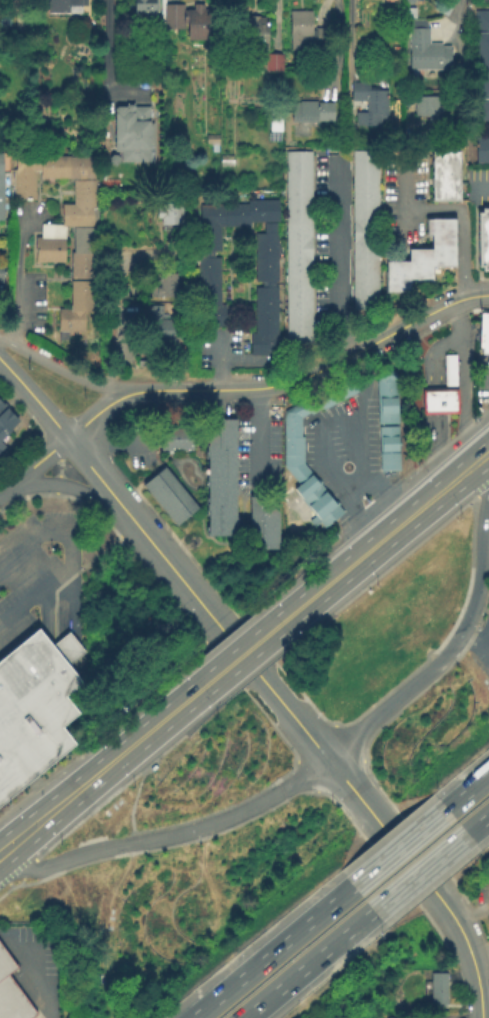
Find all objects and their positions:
building: (408, 0)
building: (63, 5)
building: (144, 7)
building: (186, 18)
road: (449, 23)
building: (251, 31)
building: (306, 31)
road: (350, 36)
road: (461, 44)
road: (337, 46)
building: (424, 47)
road: (106, 59)
building: (272, 60)
building: (480, 64)
building: (368, 102)
building: (426, 104)
building: (310, 109)
building: (274, 119)
building: (132, 131)
building: (210, 137)
building: (482, 148)
building: (225, 159)
building: (444, 174)
building: (1, 186)
road: (480, 187)
road: (405, 208)
building: (171, 212)
building: (63, 224)
building: (363, 228)
building: (482, 237)
building: (298, 245)
building: (422, 255)
road: (463, 255)
road: (336, 260)
building: (207, 267)
building: (0, 275)
road: (16, 277)
building: (167, 283)
road: (126, 290)
road: (476, 296)
road: (110, 303)
building: (165, 325)
road: (122, 326)
building: (484, 331)
road: (429, 353)
road: (222, 359)
building: (140, 361)
road: (63, 369)
building: (449, 372)
road: (215, 374)
road: (304, 378)
road: (463, 387)
road: (35, 398)
road: (430, 404)
building: (440, 404)
road: (97, 415)
building: (6, 418)
road: (334, 422)
road: (483, 422)
building: (387, 423)
road: (258, 435)
building: (166, 437)
building: (183, 437)
road: (109, 439)
building: (1, 444)
building: (293, 453)
road: (433, 457)
road: (34, 466)
road: (97, 474)
building: (219, 475)
road: (68, 485)
road: (351, 485)
building: (168, 494)
building: (262, 519)
road: (65, 532)
road: (392, 533)
road: (485, 547)
road: (34, 593)
road: (474, 650)
road: (245, 653)
road: (253, 668)
building: (34, 706)
road: (124, 753)
road: (327, 762)
road: (152, 763)
road: (465, 788)
road: (136, 795)
road: (23, 820)
road: (477, 821)
road: (35, 840)
road: (396, 846)
road: (4, 867)
road: (417, 872)
road: (432, 890)
road: (270, 951)
road: (303, 965)
road: (38, 975)
building: (440, 986)
road: (478, 988)
building: (11, 992)

